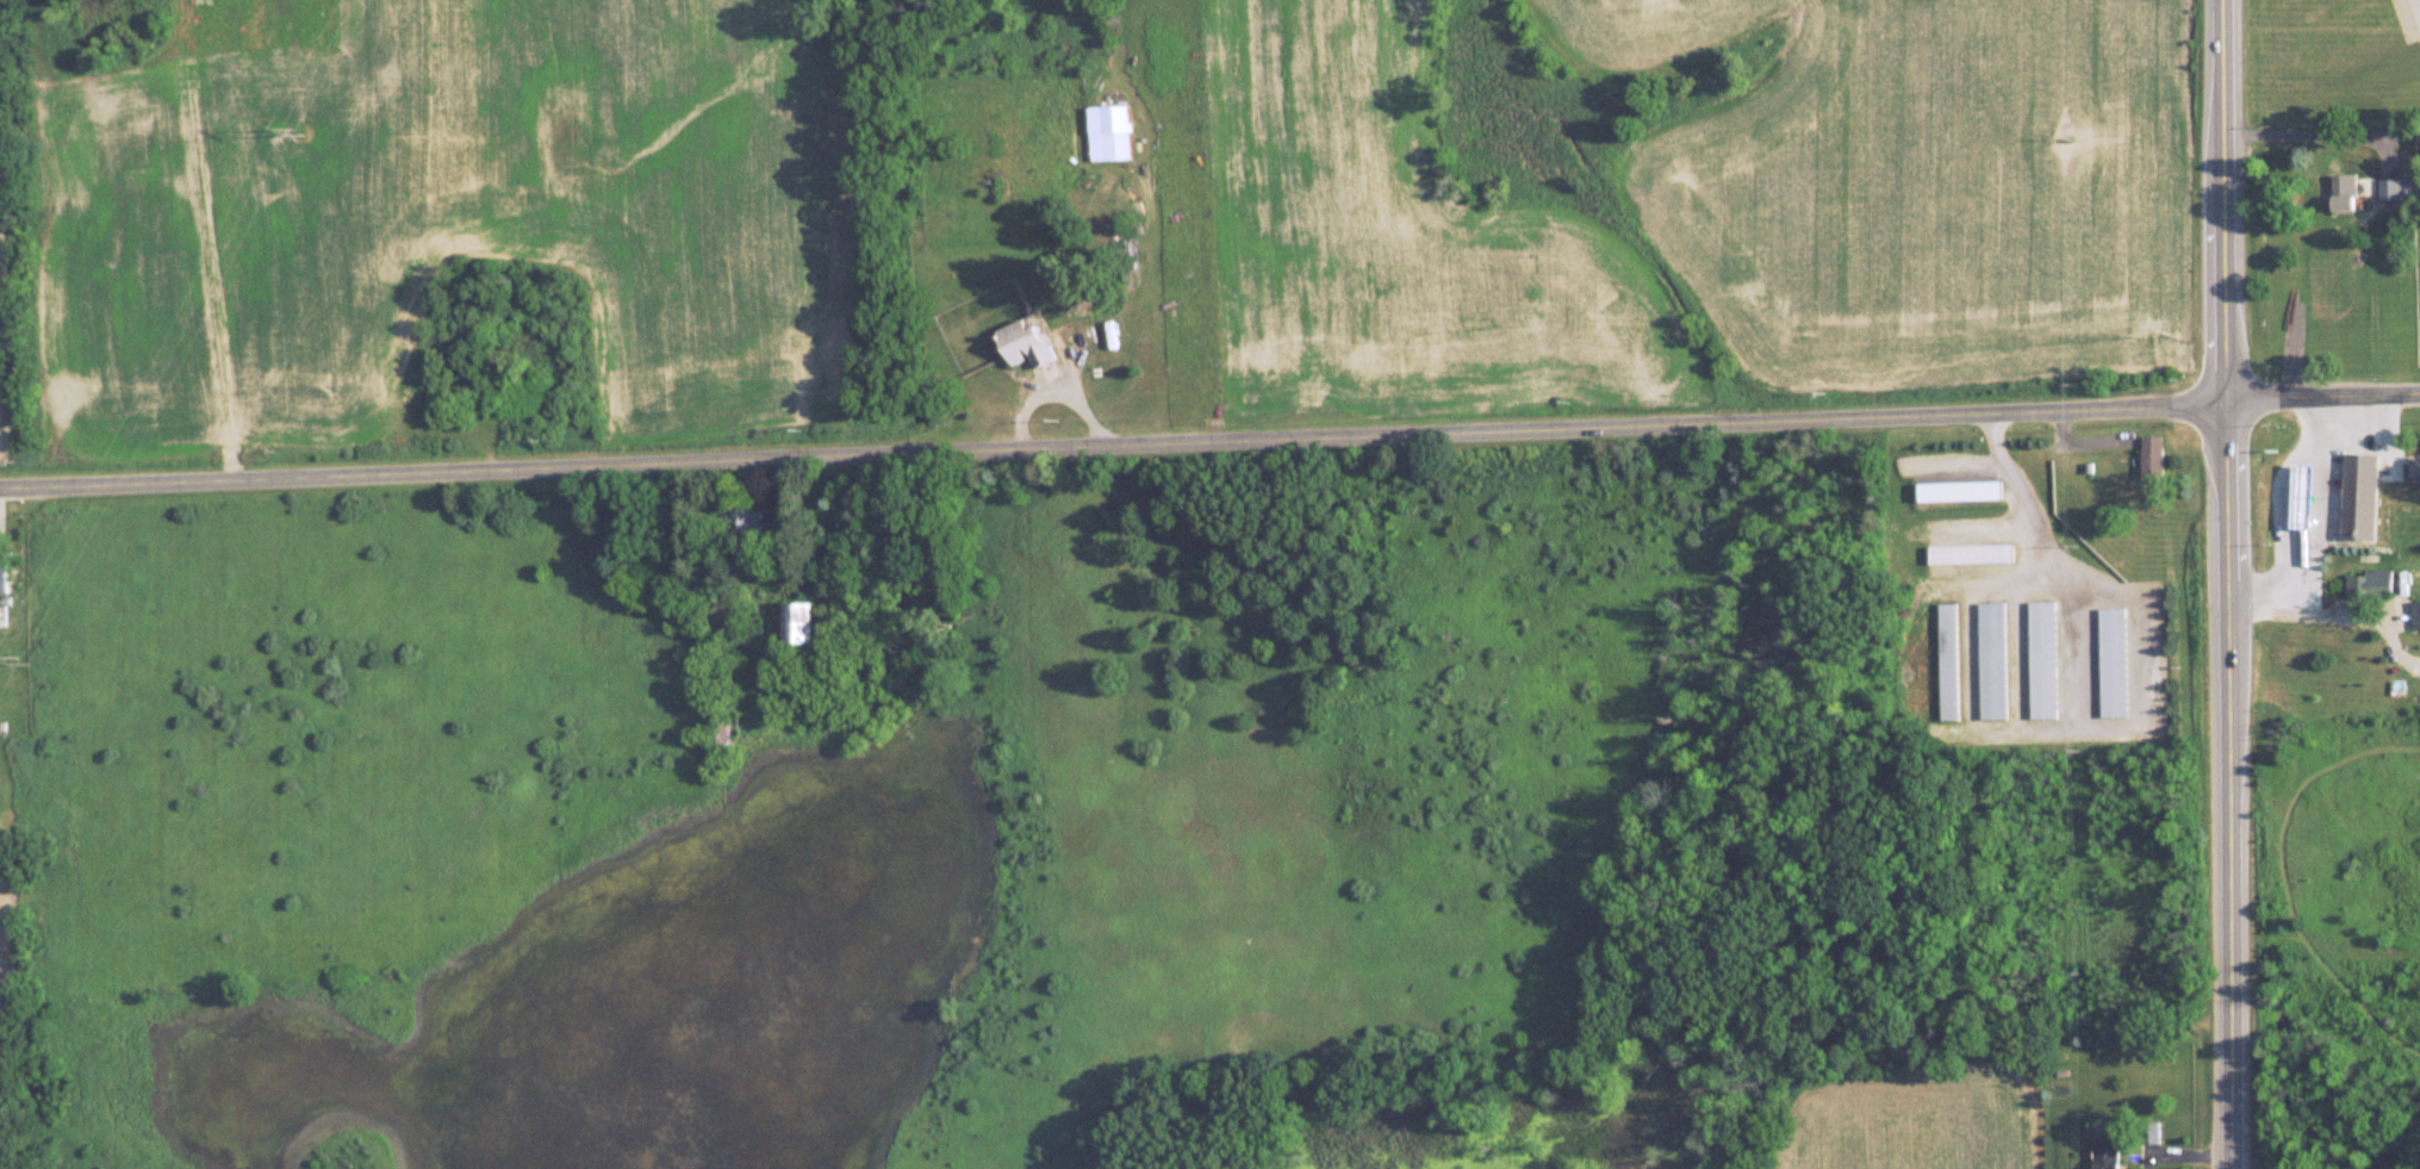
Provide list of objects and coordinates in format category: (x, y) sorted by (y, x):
road: (2416, 8)
power tower: (298, 130)
building: (1109, 132)
road: (2309, 135)
building: (2399, 188)
building: (2349, 192)
building: (1027, 343)
road: (1209, 448)
building: (2154, 455)
building: (2414, 468)
building: (2332, 489)
road: (2028, 502)
building: (2297, 510)
building: (748, 516)
road: (2312, 527)
building: (4, 576)
building: (2371, 583)
road: (2231, 584)
road: (2297, 614)
building: (2418, 614)
building: (800, 623)
power tower: (23, 654)
building: (2043, 658)
building: (1993, 659)
building: (1949, 660)
building: (2113, 660)
building: (2107, 1157)

